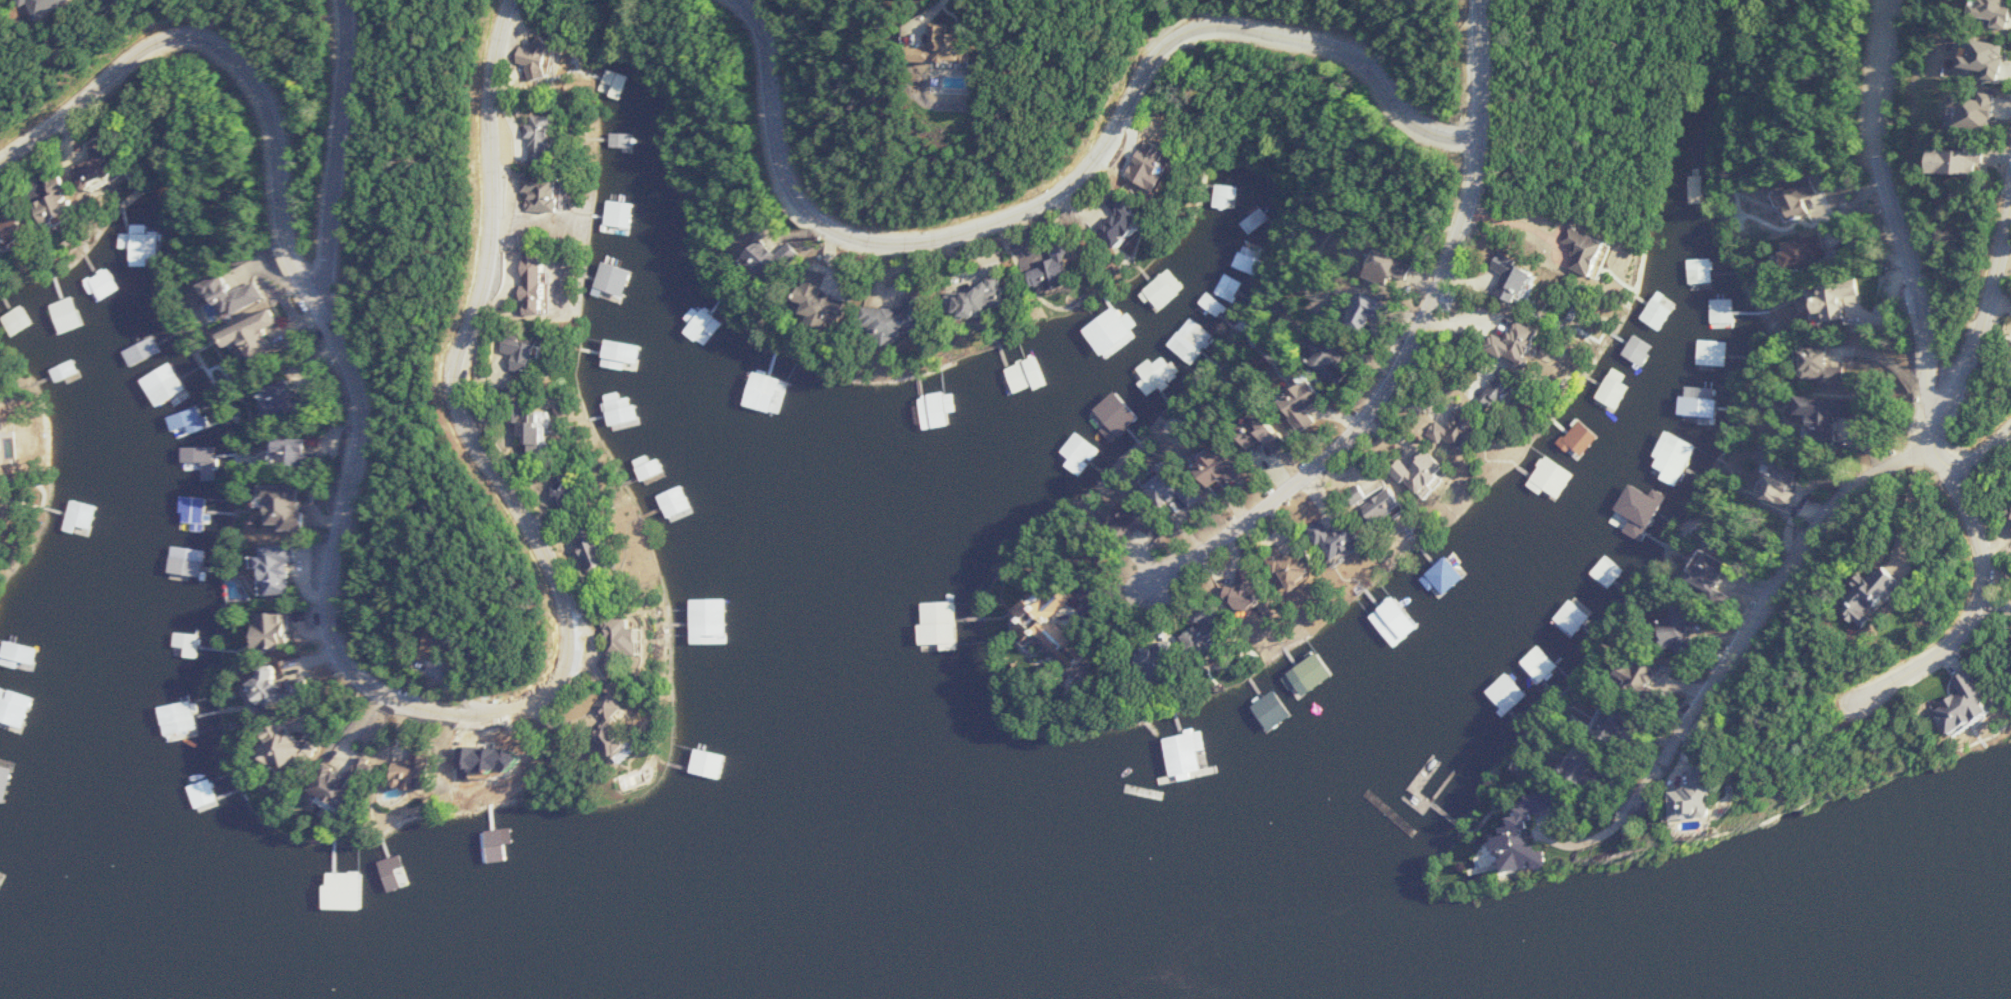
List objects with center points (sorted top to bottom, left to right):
building: (1968, 11)
building: (969, 40)
building: (1960, 55)
building: (544, 56)
building: (1947, 107)
building: (549, 133)
building: (627, 140)
road: (344, 151)
building: (1926, 159)
building: (102, 166)
road: (1083, 179)
building: (1697, 189)
building: (556, 192)
building: (1793, 197)
building: (62, 200)
road: (1887, 216)
building: (1138, 220)
road: (1524, 223)
building: (16, 230)
building: (144, 241)
building: (1572, 249)
building: (1798, 251)
building: (773, 257)
building: (1399, 265)
building: (1063, 267)
building: (1586, 269)
building: (1699, 269)
building: (1494, 277)
building: (615, 278)
building: (550, 281)
building: (106, 283)
building: (1165, 288)
building: (236, 295)
building: (1515, 295)
building: (2009, 296)
building: (992, 297)
building: (829, 298)
building: (1828, 298)
building: (1375, 312)
building: (1654, 313)
building: (1721, 313)
building: (64, 315)
building: (906, 318)
building: (15, 320)
building: (2008, 320)
building: (704, 326)
road: (1981, 328)
building: (1111, 330)
building: (258, 334)
building: (1192, 340)
road: (1413, 345)
building: (2008, 345)
building: (145, 351)
building: (1513, 351)
building: (532, 353)
building: (1711, 353)
building: (624, 354)
building: (1345, 359)
building: (1813, 365)
building: (66, 374)
building: (1027, 374)
building: (1155, 374)
building: (165, 386)
building: (1608, 391)
building: (1486, 392)
building: (281, 401)
building: (1316, 403)
building: (1697, 404)
building: (941, 409)
building: (1117, 413)
building: (1814, 415)
building: (189, 424)
building: (1470, 431)
building: (549, 433)
building: (1275, 434)
building: (1080, 448)
road: (1985, 451)
building: (293, 452)
building: (1232, 467)
building: (1434, 471)
building: (1550, 478)
building: (1769, 484)
building: (1180, 488)
building: (587, 491)
building: (679, 502)
building: (1395, 504)
building: (3, 505)
building: (288, 506)
building: (198, 509)
building: (1632, 510)
building: (81, 517)
building: (1148, 520)
building: (2010, 524)
building: (1351, 540)
building: (1488, 540)
building: (615, 555)
building: (183, 566)
building: (1310, 567)
building: (280, 569)
building: (1608, 571)
building: (1443, 573)
building: (1696, 576)
building: (1262, 590)
building: (1841, 593)
road: (1981, 614)
building: (1571, 618)
building: (1394, 621)
building: (711, 625)
building: (942, 625)
building: (1220, 627)
building: (275, 629)
building: (1059, 632)
building: (1662, 633)
road: (1738, 639)
building: (637, 644)
building: (21, 655)
building: (1167, 662)
building: (1540, 663)
building: (1310, 669)
building: (1626, 673)
road: (363, 680)
building: (278, 690)
building: (1510, 691)
building: (1947, 705)
building: (622, 708)
building: (1270, 711)
building: (188, 721)
building: (1595, 723)
building: (627, 739)
building: (289, 748)
building: (1189, 754)
building: (707, 762)
building: (1567, 770)
building: (423, 772)
building: (5, 779)
building: (342, 785)
building: (204, 794)
building: (1665, 797)
building: (1532, 839)
building: (342, 891)

